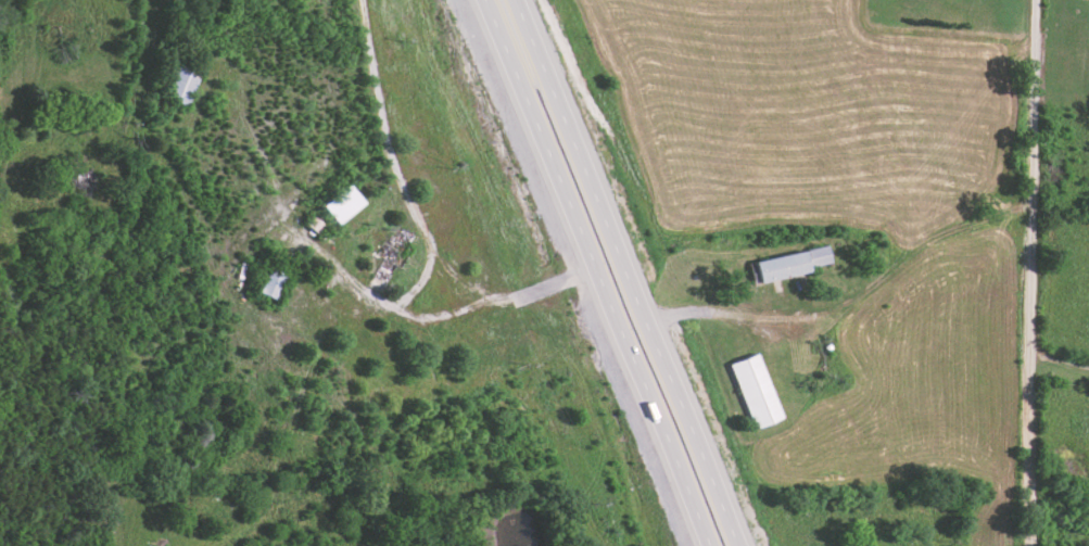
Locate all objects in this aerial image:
building: (180, 86)
building: (339, 204)
road: (415, 214)
building: (818, 256)
building: (780, 267)
road: (594, 272)
road: (625, 272)
road: (1031, 272)
building: (268, 283)
road: (1060, 360)
building: (754, 391)

